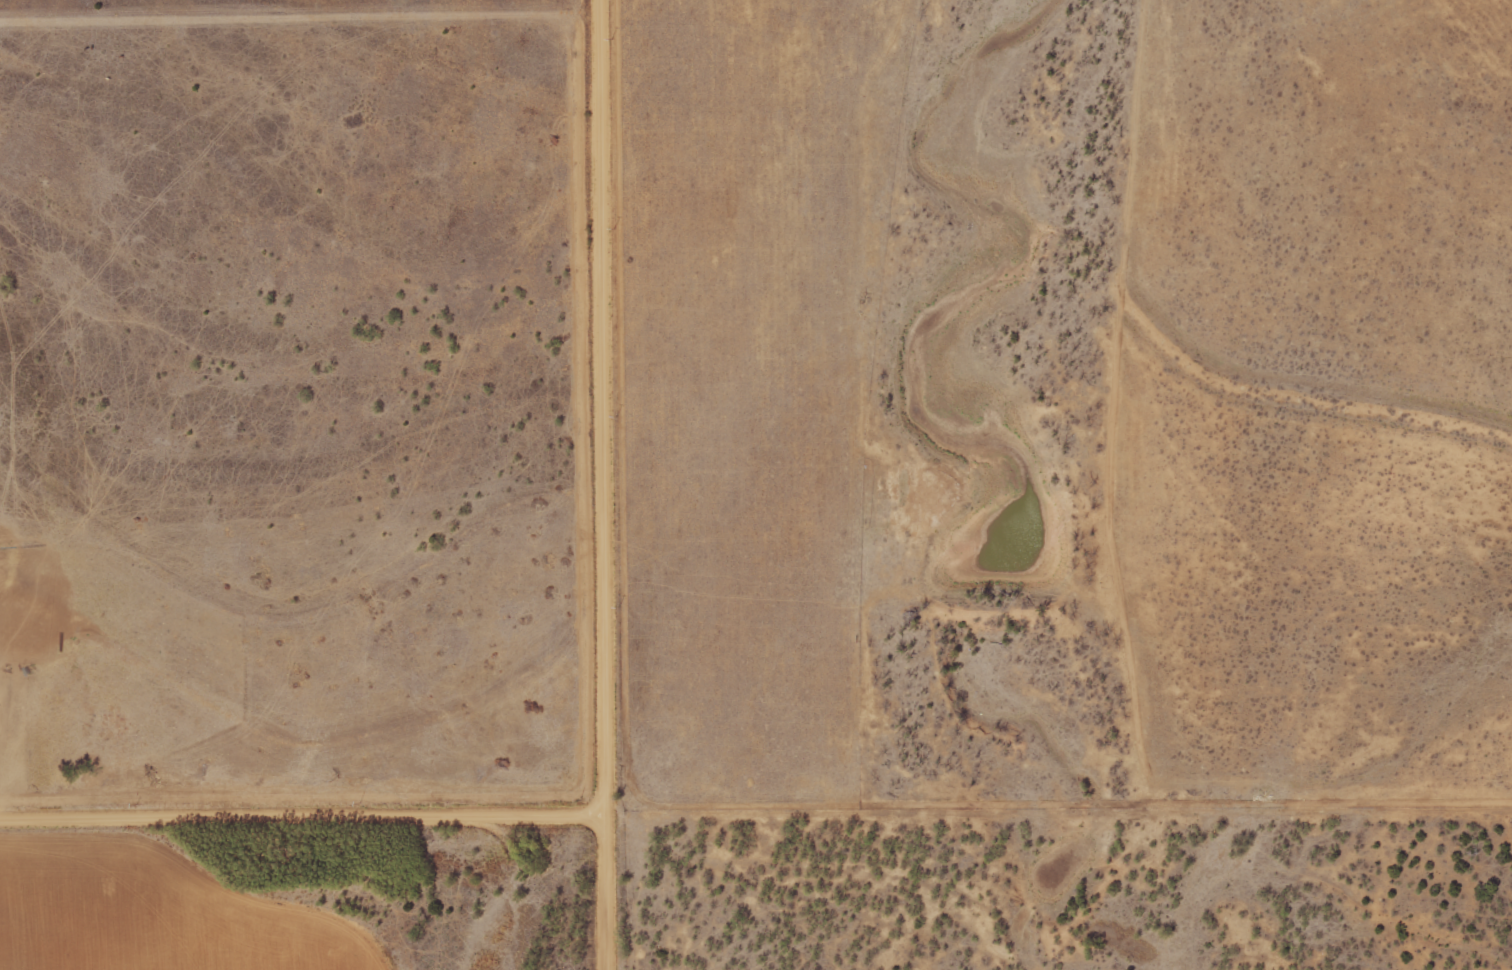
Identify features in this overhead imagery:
road: (606, 484)
road: (303, 811)

